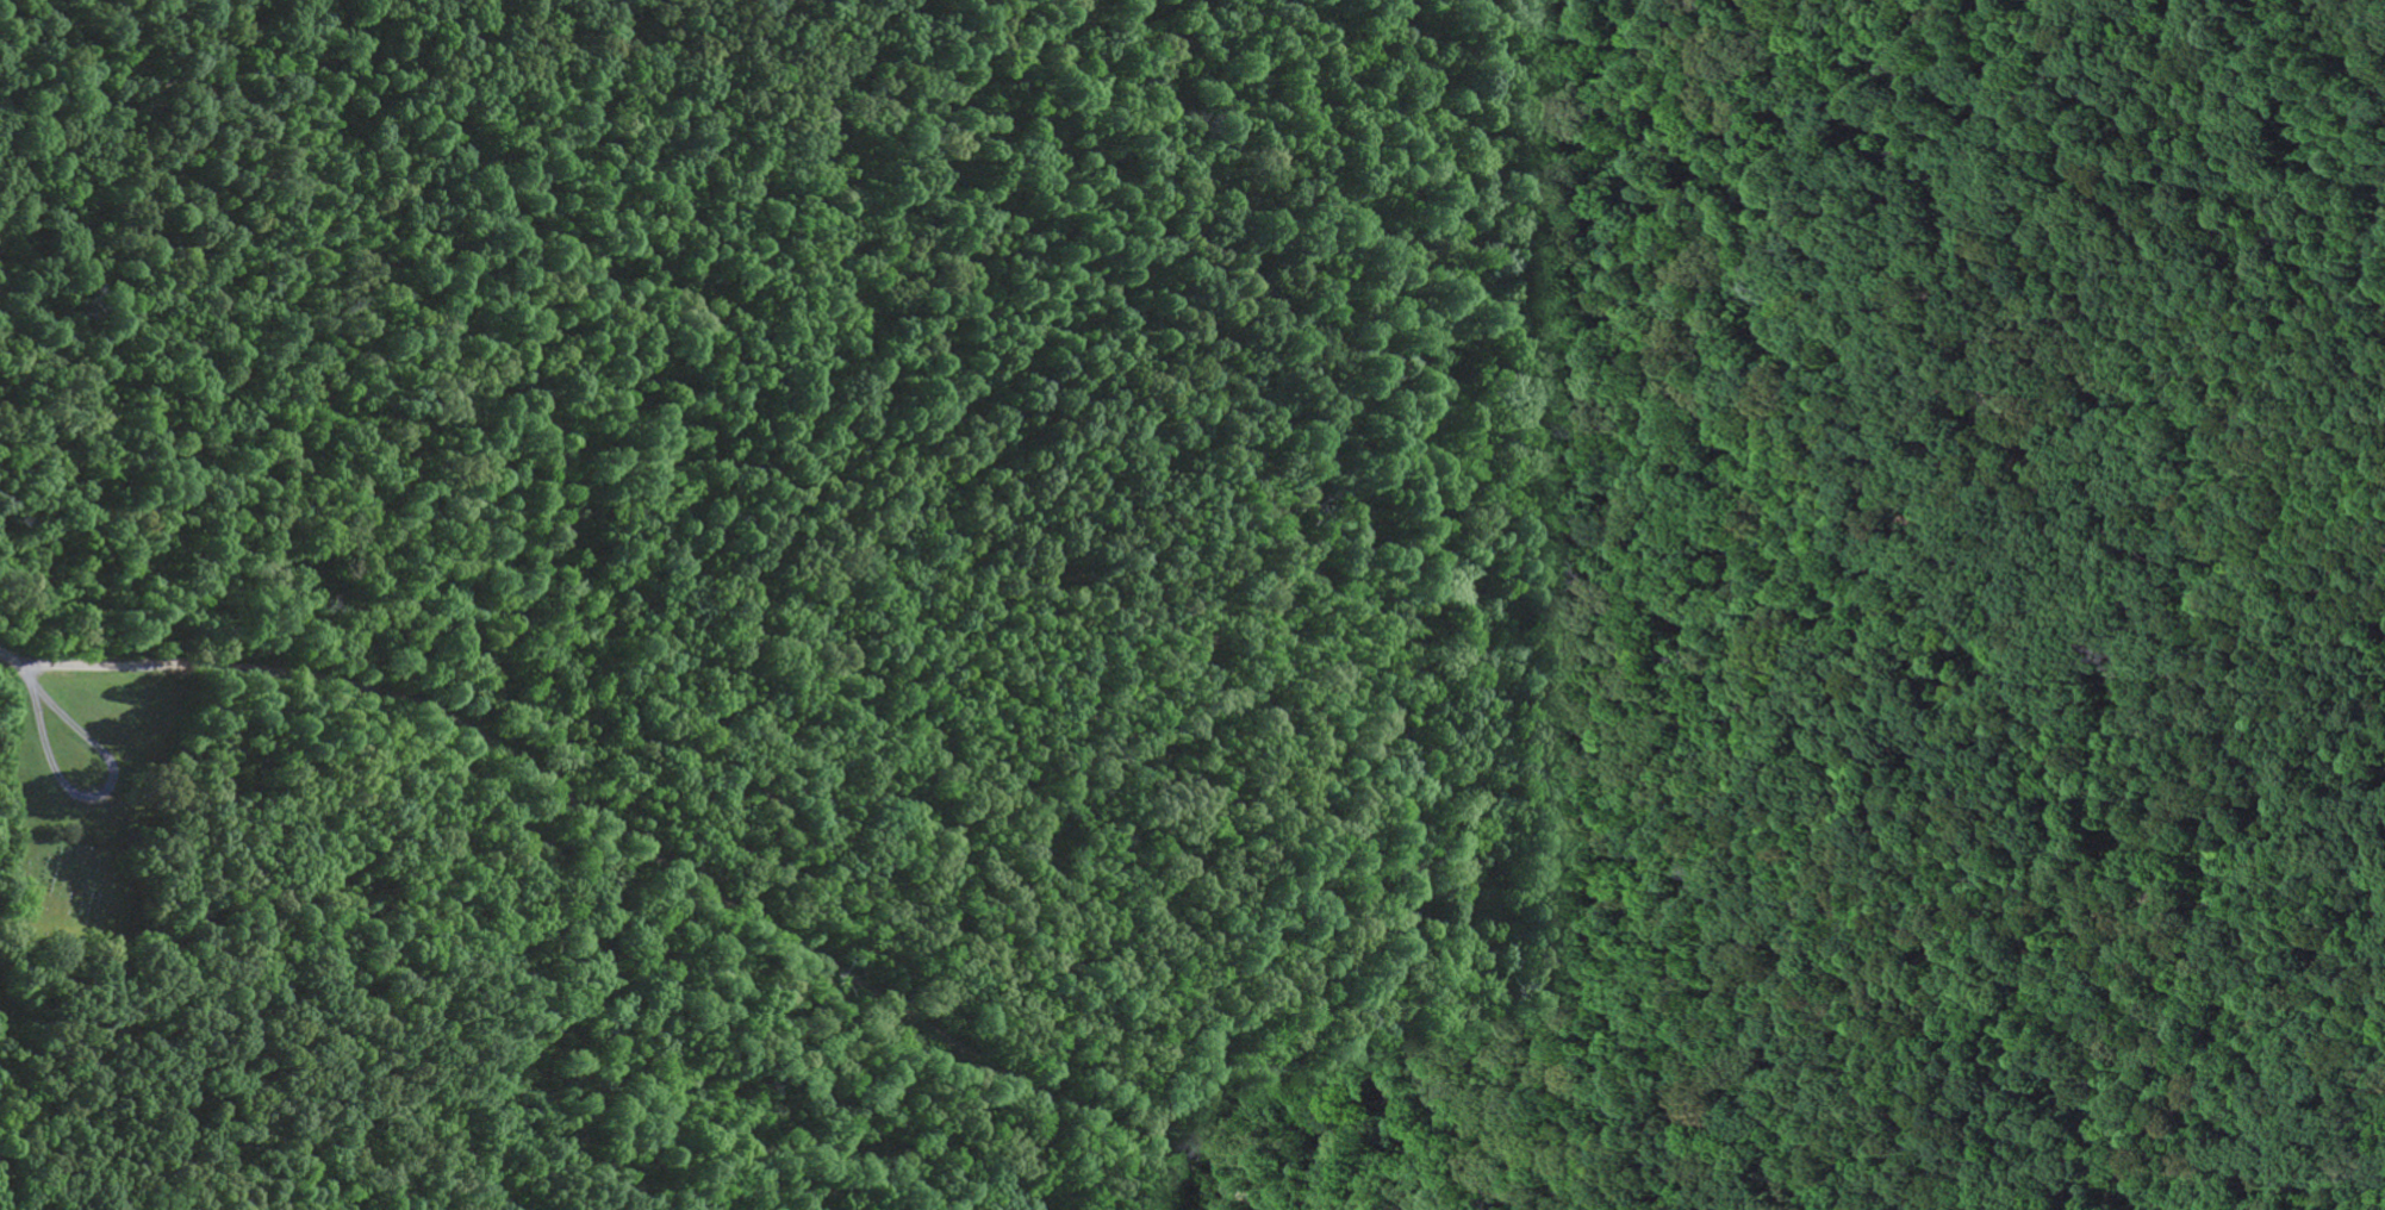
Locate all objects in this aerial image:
road: (106, 786)
road: (652, 863)
park: (67, 879)

